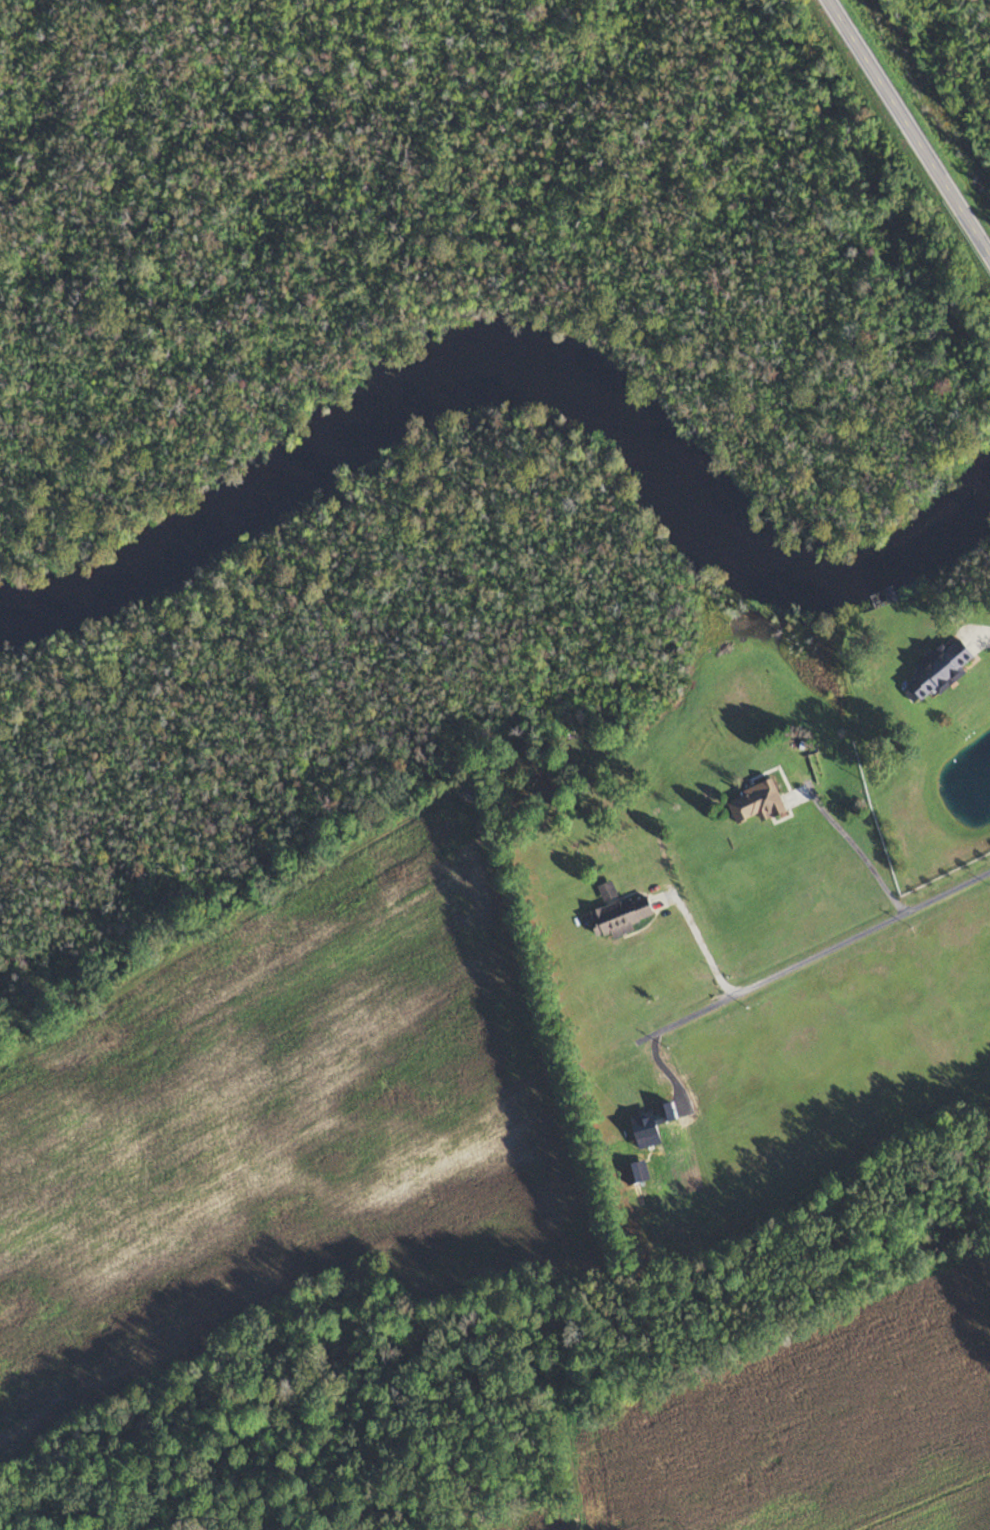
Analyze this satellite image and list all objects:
road: (906, 130)
building: (937, 670)
building: (756, 803)
road: (857, 848)
building: (619, 912)
road: (699, 942)
road: (812, 955)

